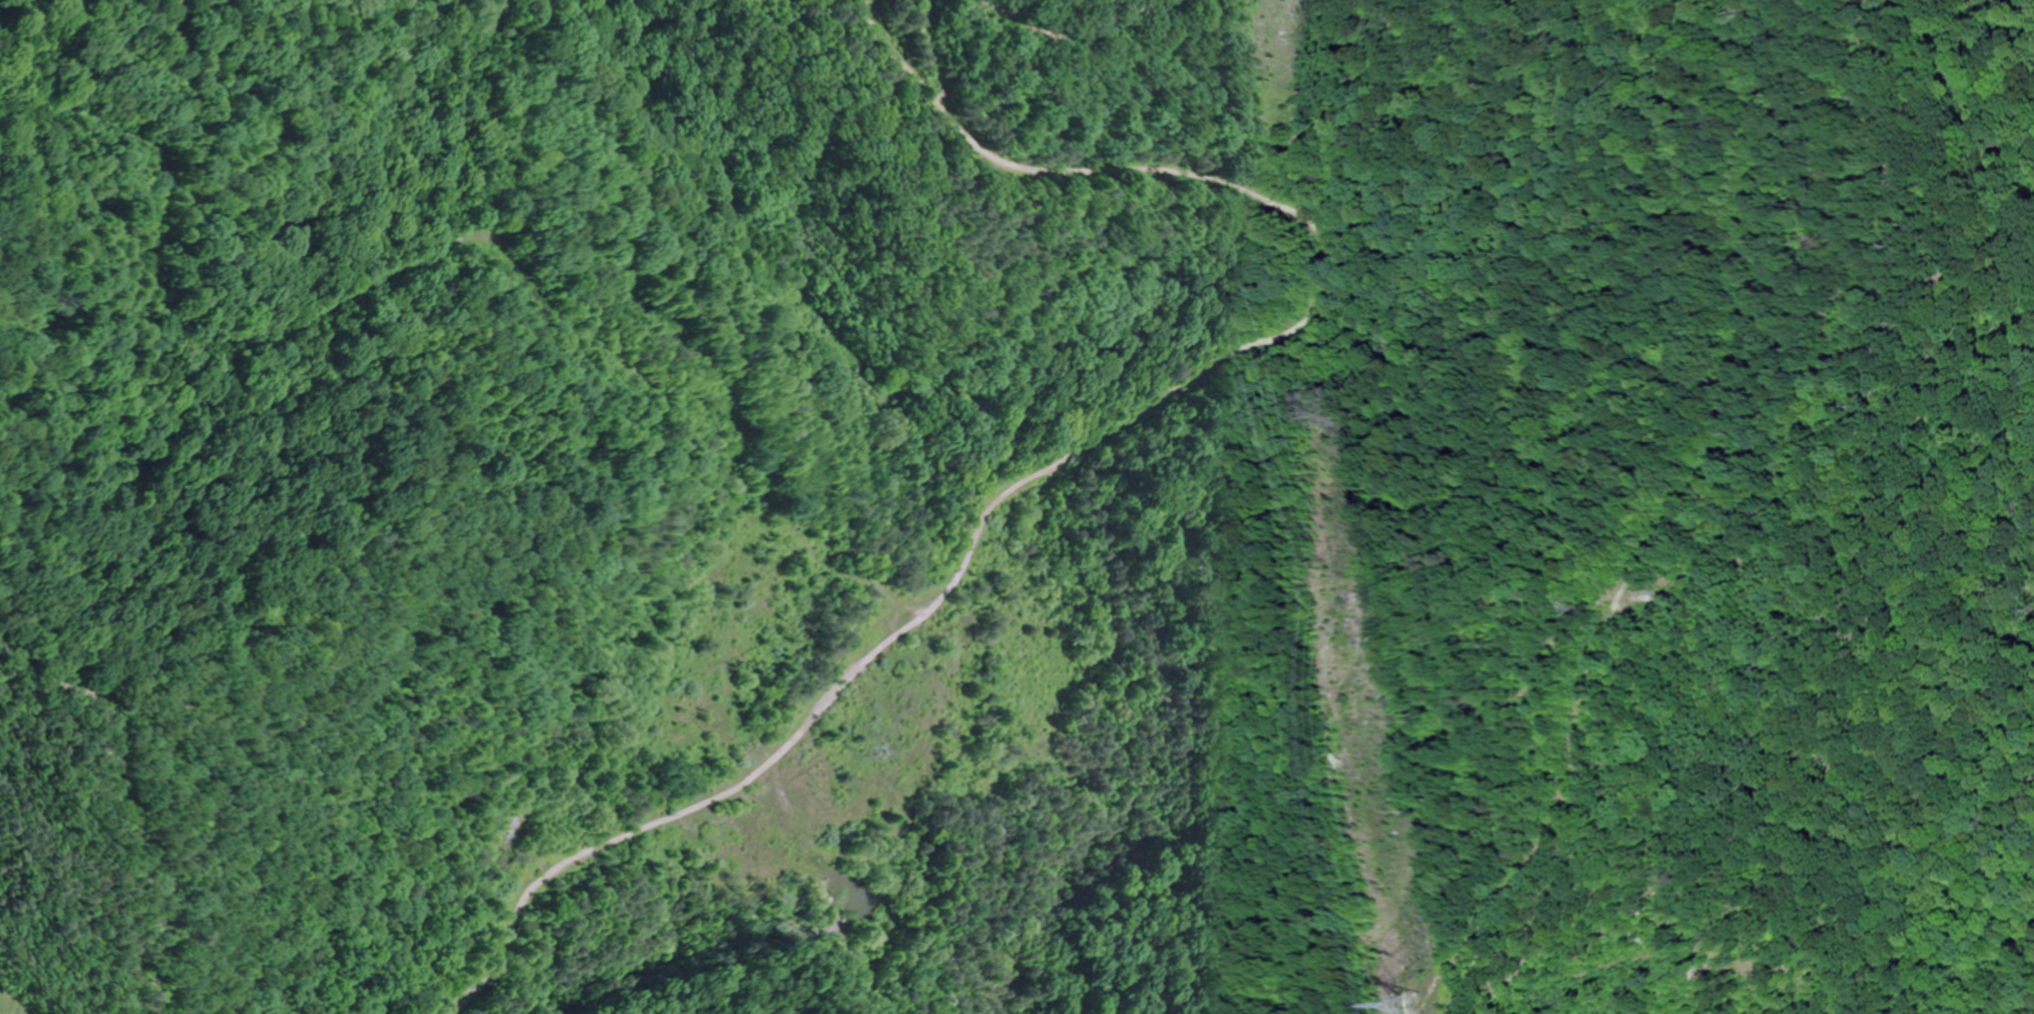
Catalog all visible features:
building: (1649, 596)

